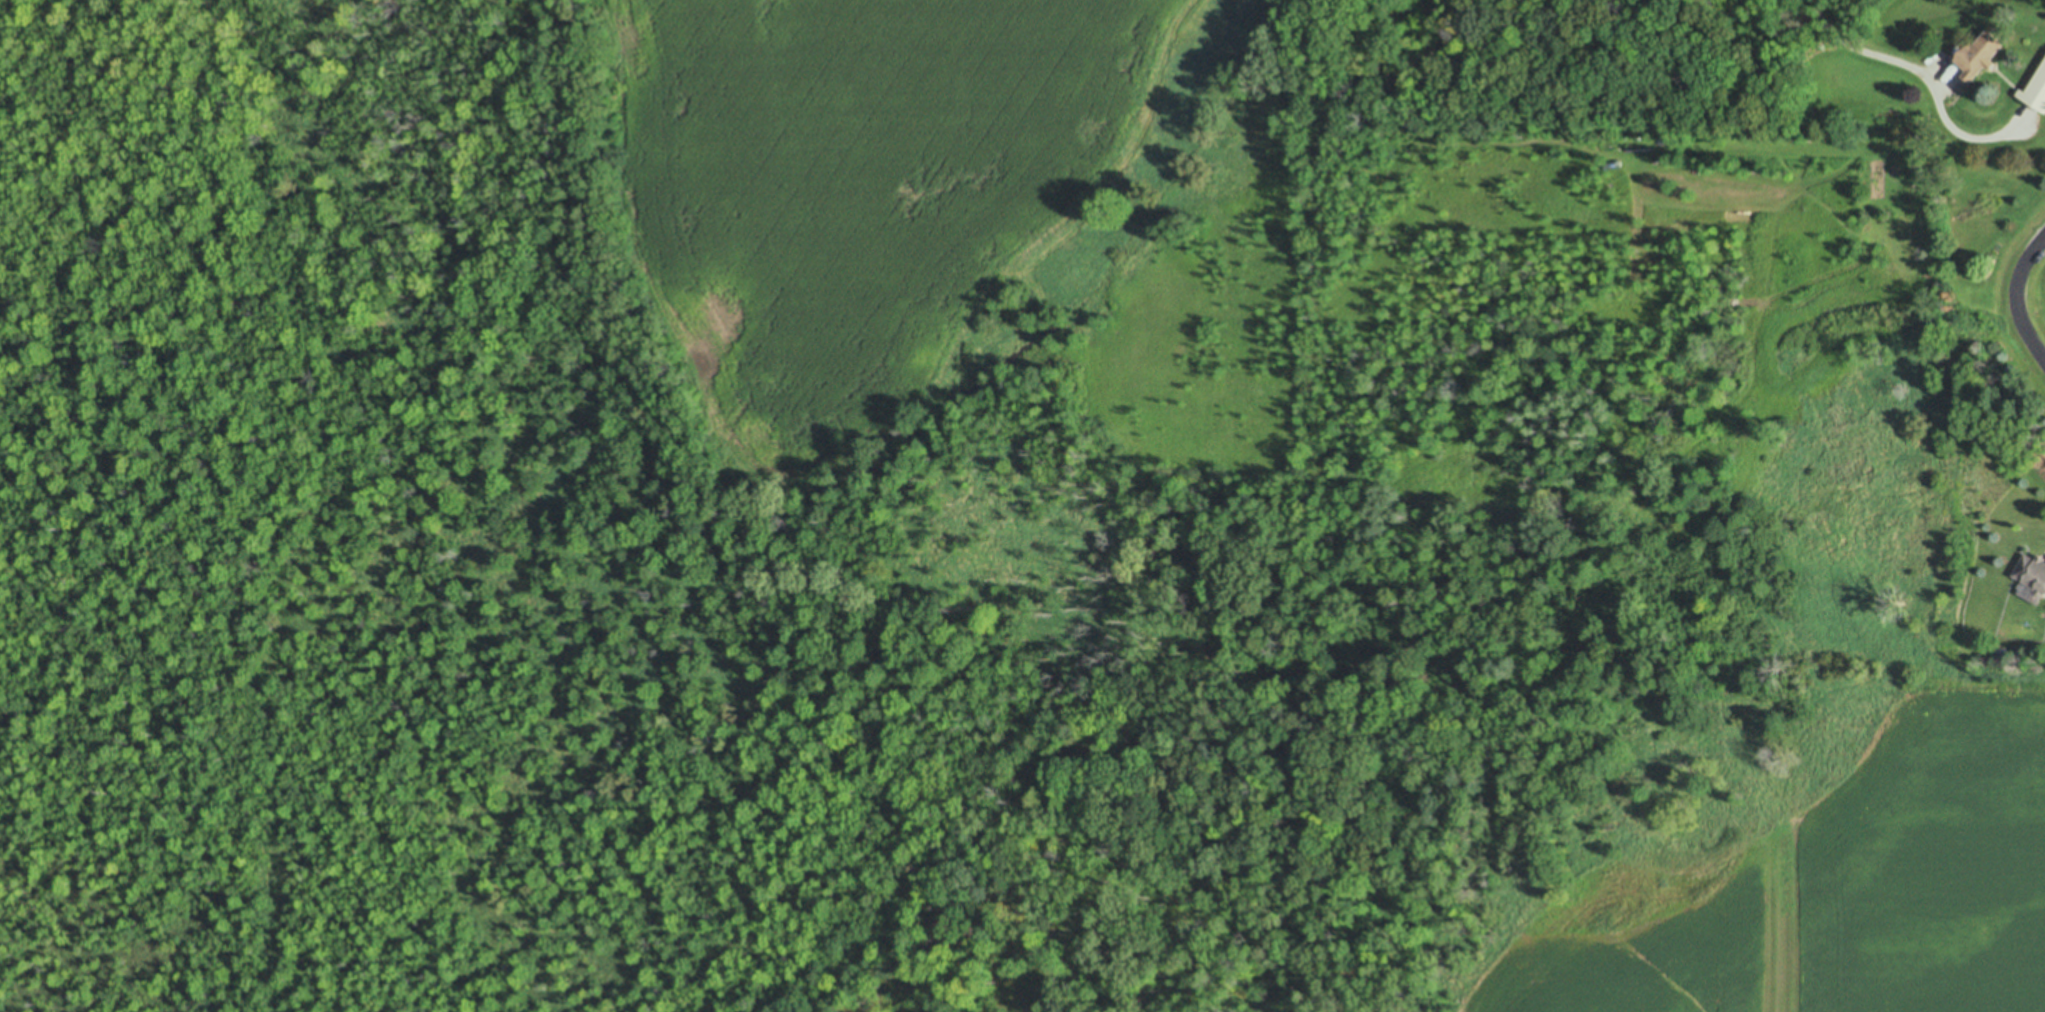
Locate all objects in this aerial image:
building: (1978, 54)
road: (1926, 69)
building: (2035, 89)
building: (1754, 131)
building: (1664, 139)
building: (1921, 171)
road: (2017, 294)
building: (2032, 573)
building: (2018, 629)
building: (1998, 651)

